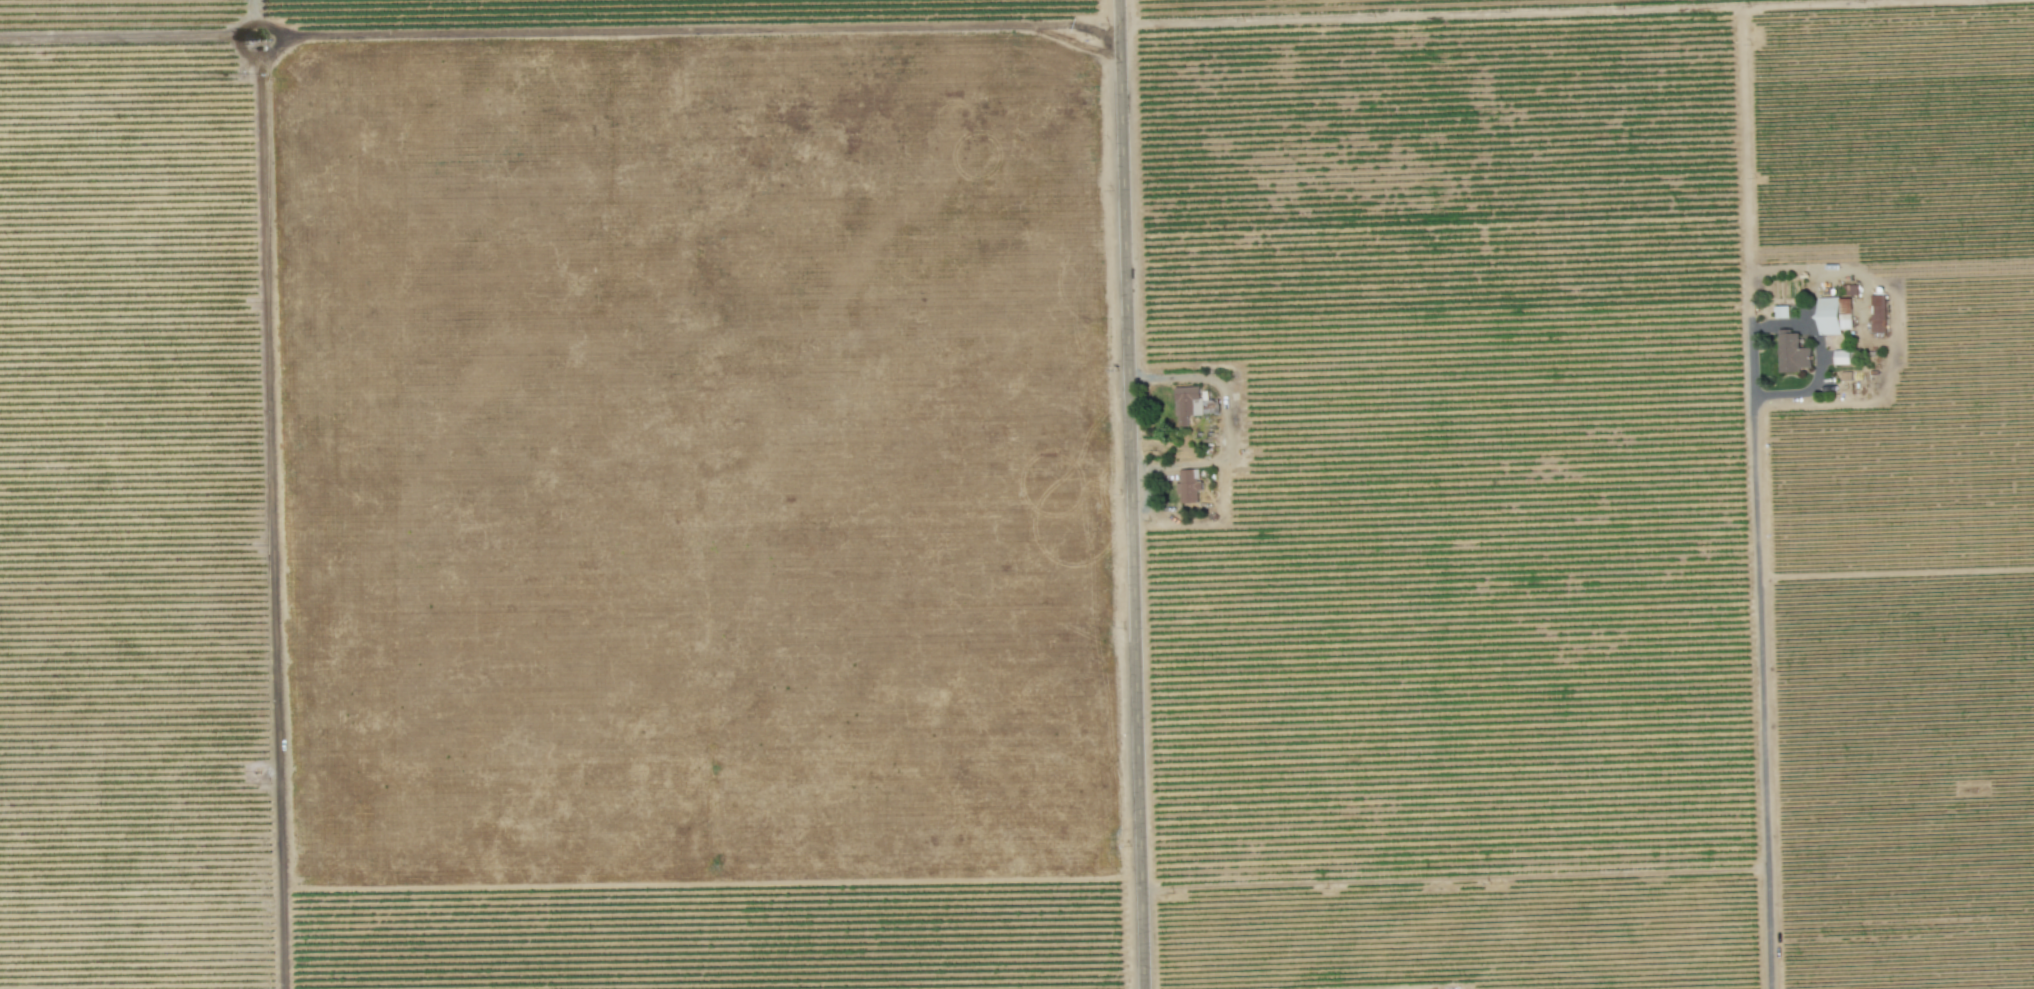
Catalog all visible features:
building: (1834, 314)
building: (1792, 353)
building: (1840, 356)
building: (1186, 403)
road: (1134, 494)
road: (1761, 693)

